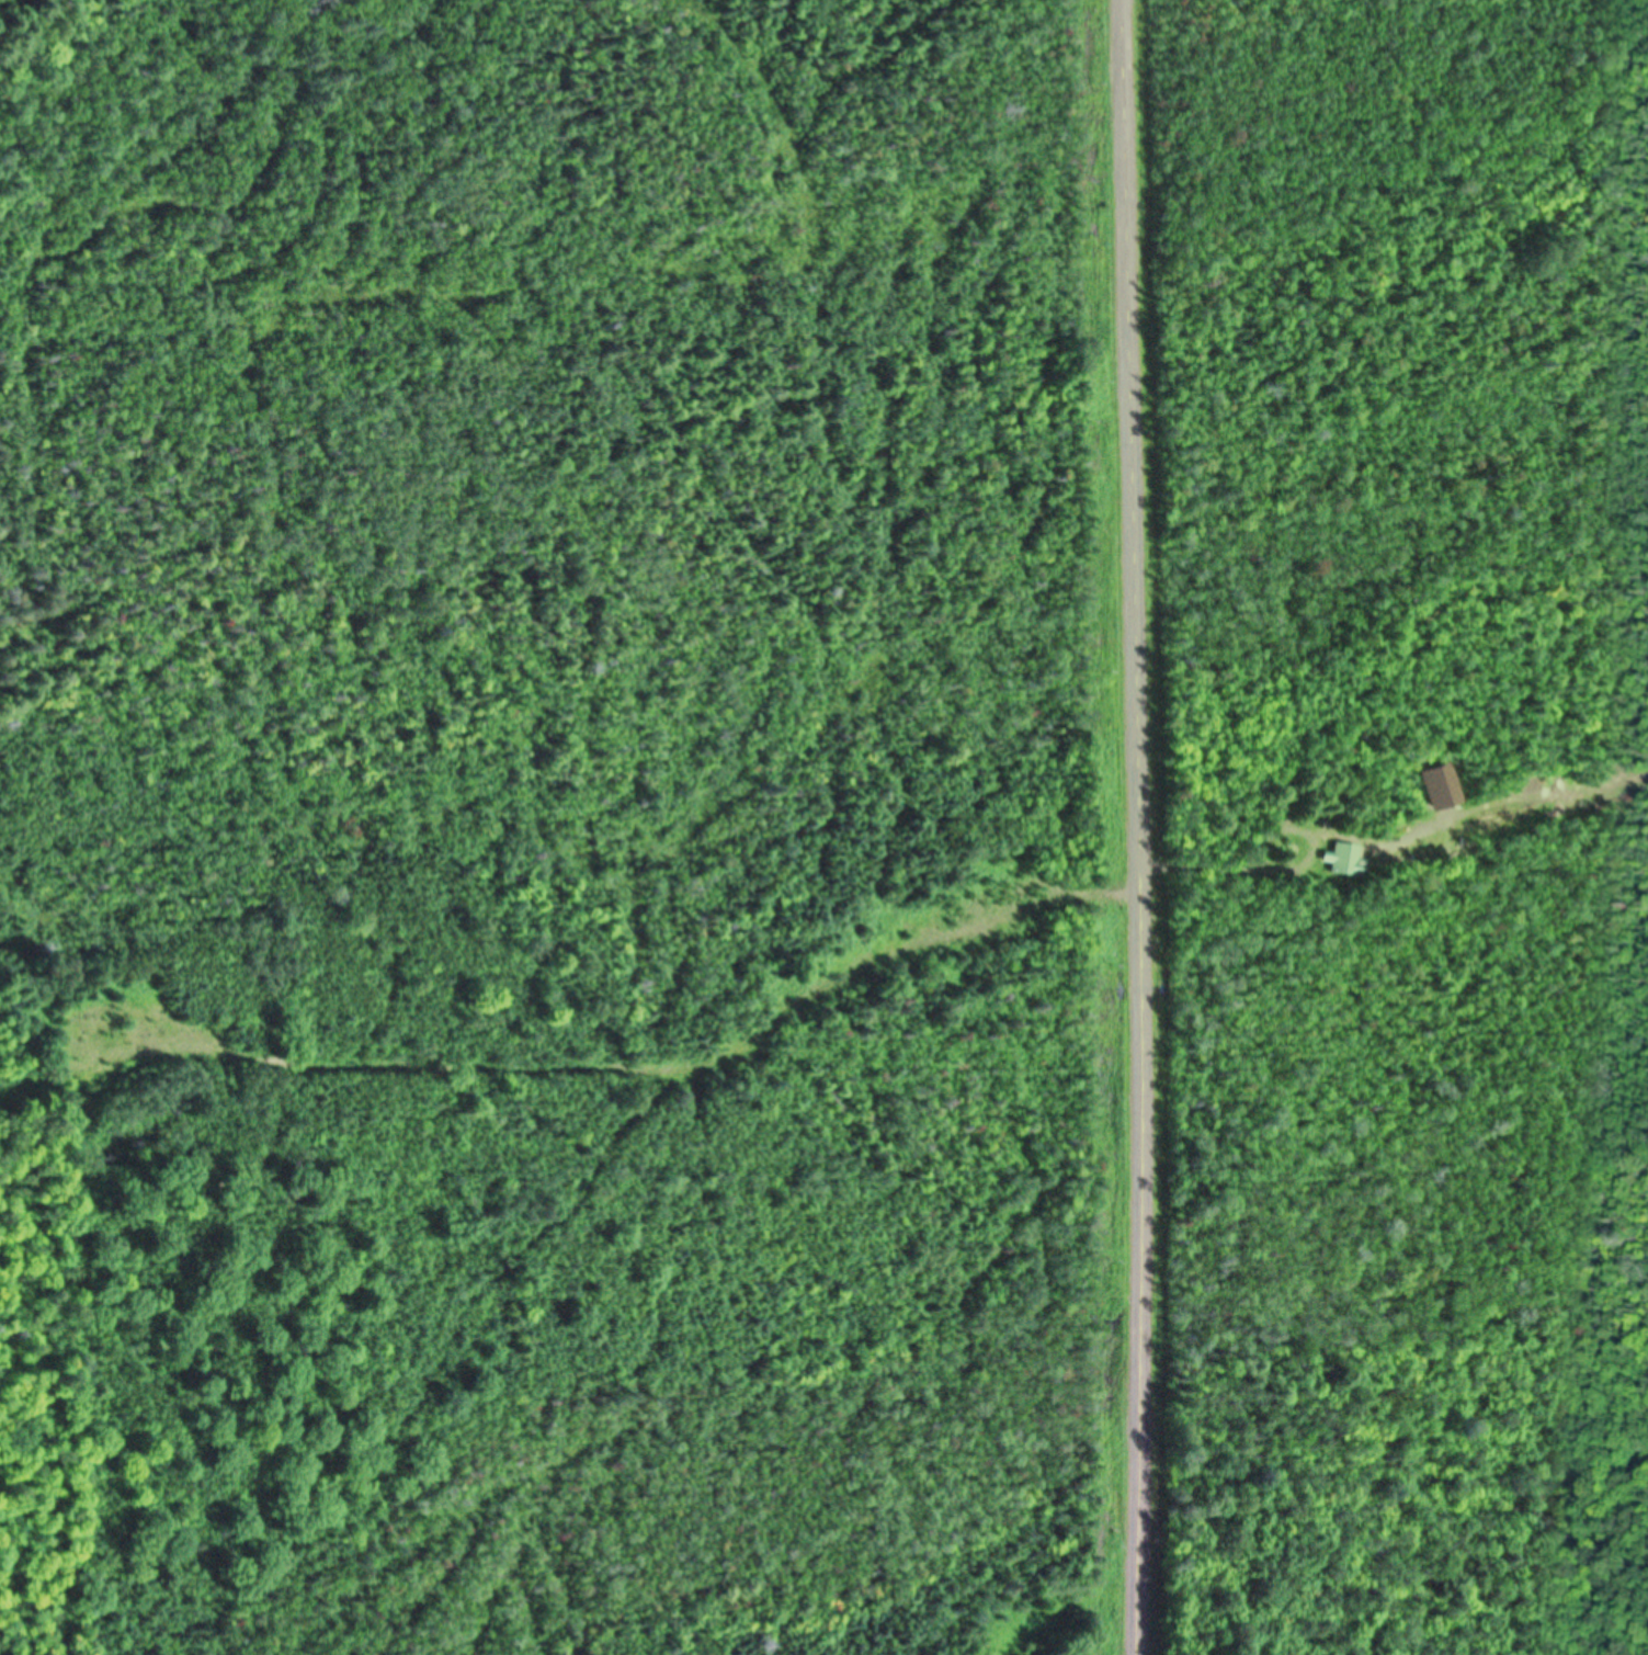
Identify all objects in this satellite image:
road: (1143, 827)
building: (1341, 861)

